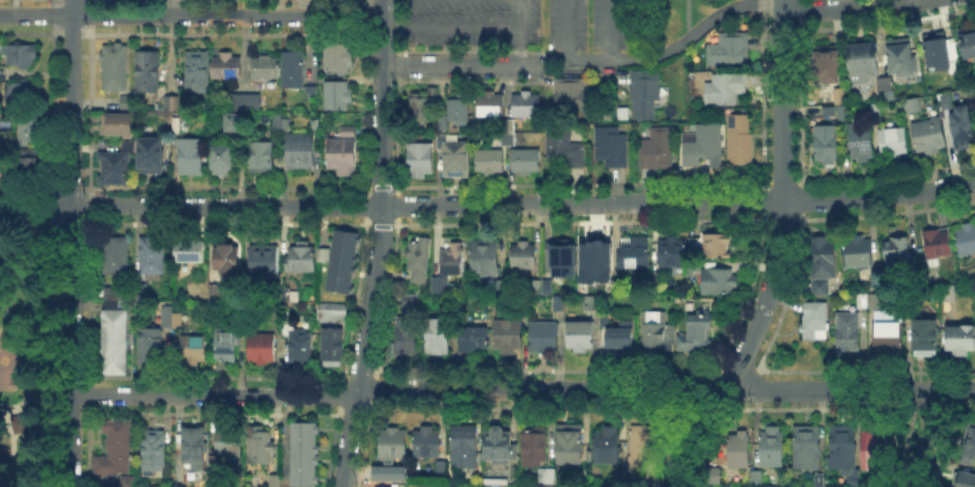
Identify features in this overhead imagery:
road: (782, 4)
road: (845, 5)
road: (169, 8)
road: (190, 16)
parking lot: (516, 23)
road: (466, 27)
road: (565, 29)
road: (610, 29)
building: (968, 44)
building: (730, 51)
road: (661, 52)
building: (22, 55)
building: (937, 55)
building: (337, 56)
building: (902, 57)
building: (862, 62)
building: (828, 64)
building: (226, 66)
building: (115, 67)
road: (455, 67)
building: (265, 68)
building: (293, 70)
building: (147, 71)
building: (197, 72)
building: (885, 84)
building: (313, 88)
building: (725, 90)
building: (21, 94)
building: (837, 94)
building: (335, 95)
building: (645, 95)
building: (575, 96)
building: (945, 101)
road: (71, 102)
building: (246, 103)
building: (128, 104)
road: (782, 105)
building: (491, 106)
building: (527, 106)
building: (913, 106)
building: (170, 108)
building: (875, 108)
building: (422, 109)
building: (834, 111)
building: (455, 115)
building: (606, 116)
building: (234, 122)
building: (280, 125)
building: (118, 126)
building: (962, 126)
building: (33, 129)
building: (507, 133)
building: (930, 136)
building: (739, 141)
building: (861, 142)
building: (895, 143)
building: (703, 145)
building: (828, 145)
building: (611, 147)
building: (300, 150)
building: (568, 150)
building: (657, 150)
building: (342, 152)
building: (151, 156)
building: (191, 157)
building: (261, 157)
building: (422, 158)
building: (222, 159)
building: (457, 159)
building: (0, 161)
building: (491, 162)
building: (527, 162)
building: (32, 167)
building: (115, 168)
building: (419, 174)
road: (878, 195)
road: (426, 203)
road: (35, 205)
building: (965, 238)
building: (934, 241)
road: (376, 244)
building: (716, 248)
building: (188, 250)
building: (855, 250)
building: (894, 251)
building: (115, 254)
building: (636, 254)
building: (673, 254)
building: (151, 255)
building: (525, 256)
building: (564, 256)
building: (599, 256)
building: (227, 259)
building: (303, 259)
building: (485, 259)
building: (453, 260)
building: (419, 261)
building: (818, 261)
building: (343, 262)
building: (263, 263)
building: (692, 270)
building: (548, 280)
building: (657, 280)
building: (719, 282)
building: (584, 283)
building: (541, 285)
building: (439, 286)
building: (457, 287)
building: (503, 287)
building: (618, 287)
building: (141, 292)
building: (216, 292)
building: (288, 293)
building: (950, 294)
building: (860, 298)
building: (873, 299)
building: (559, 305)
building: (593, 305)
building: (333, 313)
building: (811, 318)
building: (172, 320)
building: (607, 320)
building: (408, 328)
building: (697, 329)
building: (844, 330)
building: (884, 330)
building: (655, 332)
building: (922, 333)
building: (509, 336)
building: (960, 336)
building: (580, 337)
building: (620, 337)
building: (437, 338)
building: (474, 339)
building: (545, 339)
building: (113, 341)
building: (225, 344)
building: (149, 345)
road: (71, 346)
building: (332, 346)
building: (261, 347)
building: (190, 348)
building: (302, 348)
road: (743, 352)
park: (25, 353)
park: (12, 357)
road: (522, 388)
road: (35, 395)
building: (22, 415)
road: (925, 438)
building: (226, 439)
building: (423, 440)
building: (390, 441)
building: (191, 442)
building: (495, 442)
building: (969, 443)
building: (461, 444)
building: (566, 444)
building: (642, 444)
building: (531, 445)
building: (604, 445)
building: (804, 445)
building: (839, 446)
building: (872, 446)
road: (14, 447)
building: (113, 447)
building: (259, 447)
building: (768, 447)
building: (736, 448)
building: (151, 449)
building: (304, 454)
building: (215, 461)
building: (441, 470)
building: (544, 474)
building: (754, 475)
building: (392, 476)
building: (714, 476)
building: (816, 477)
building: (275, 479)
building: (964, 479)
building: (124, 480)
building: (770, 485)
building: (379, 486)
building: (730, 486)
building: (817, 486)

